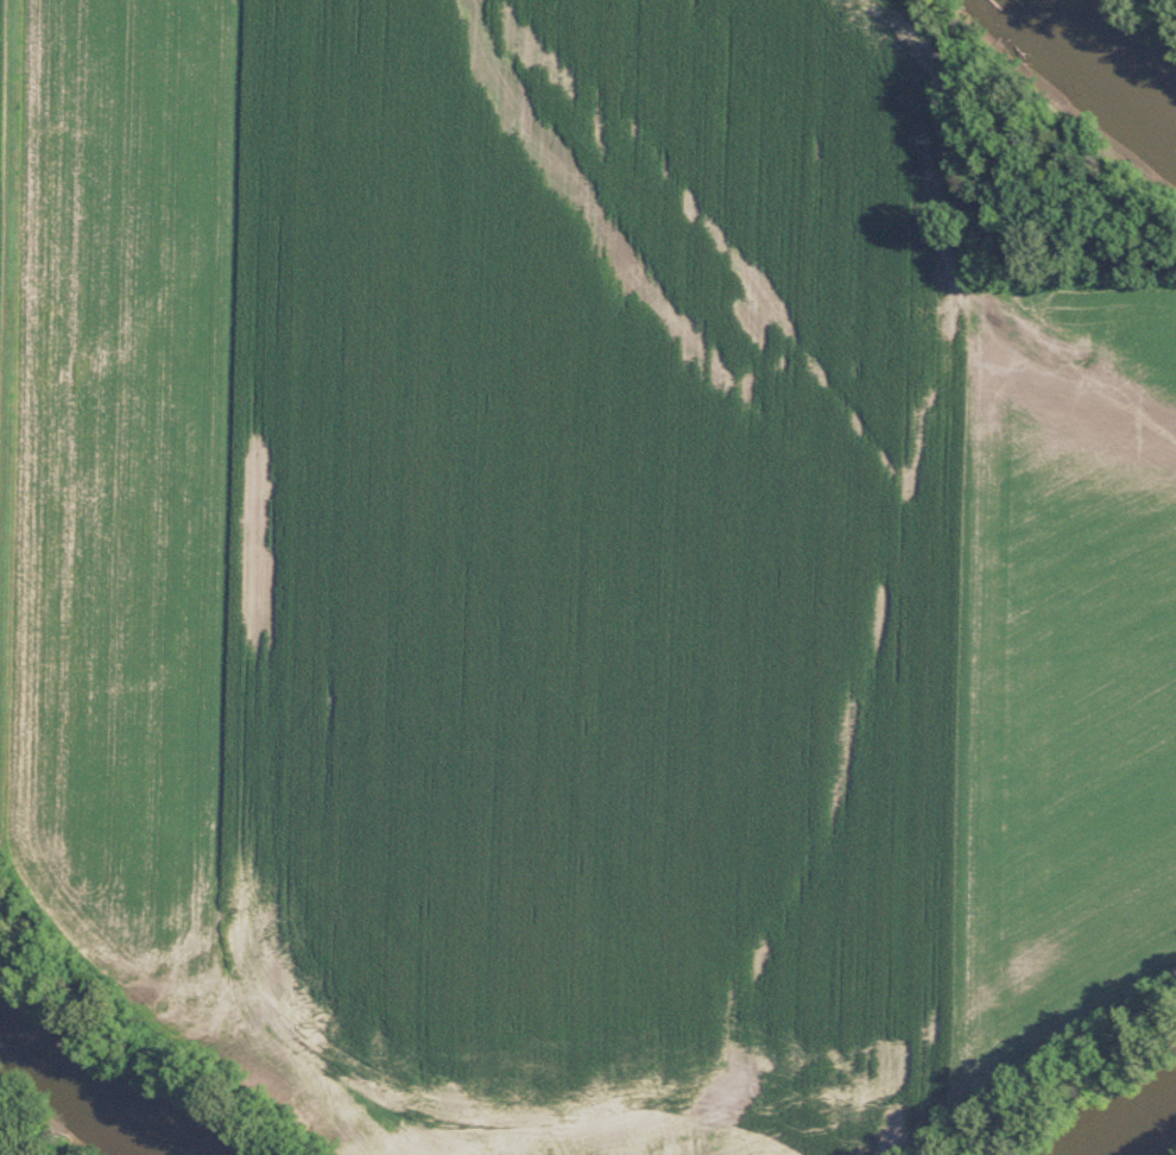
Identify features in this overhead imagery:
river: (1117, 51)
river: (102, 1102)
river: (1131, 1125)

